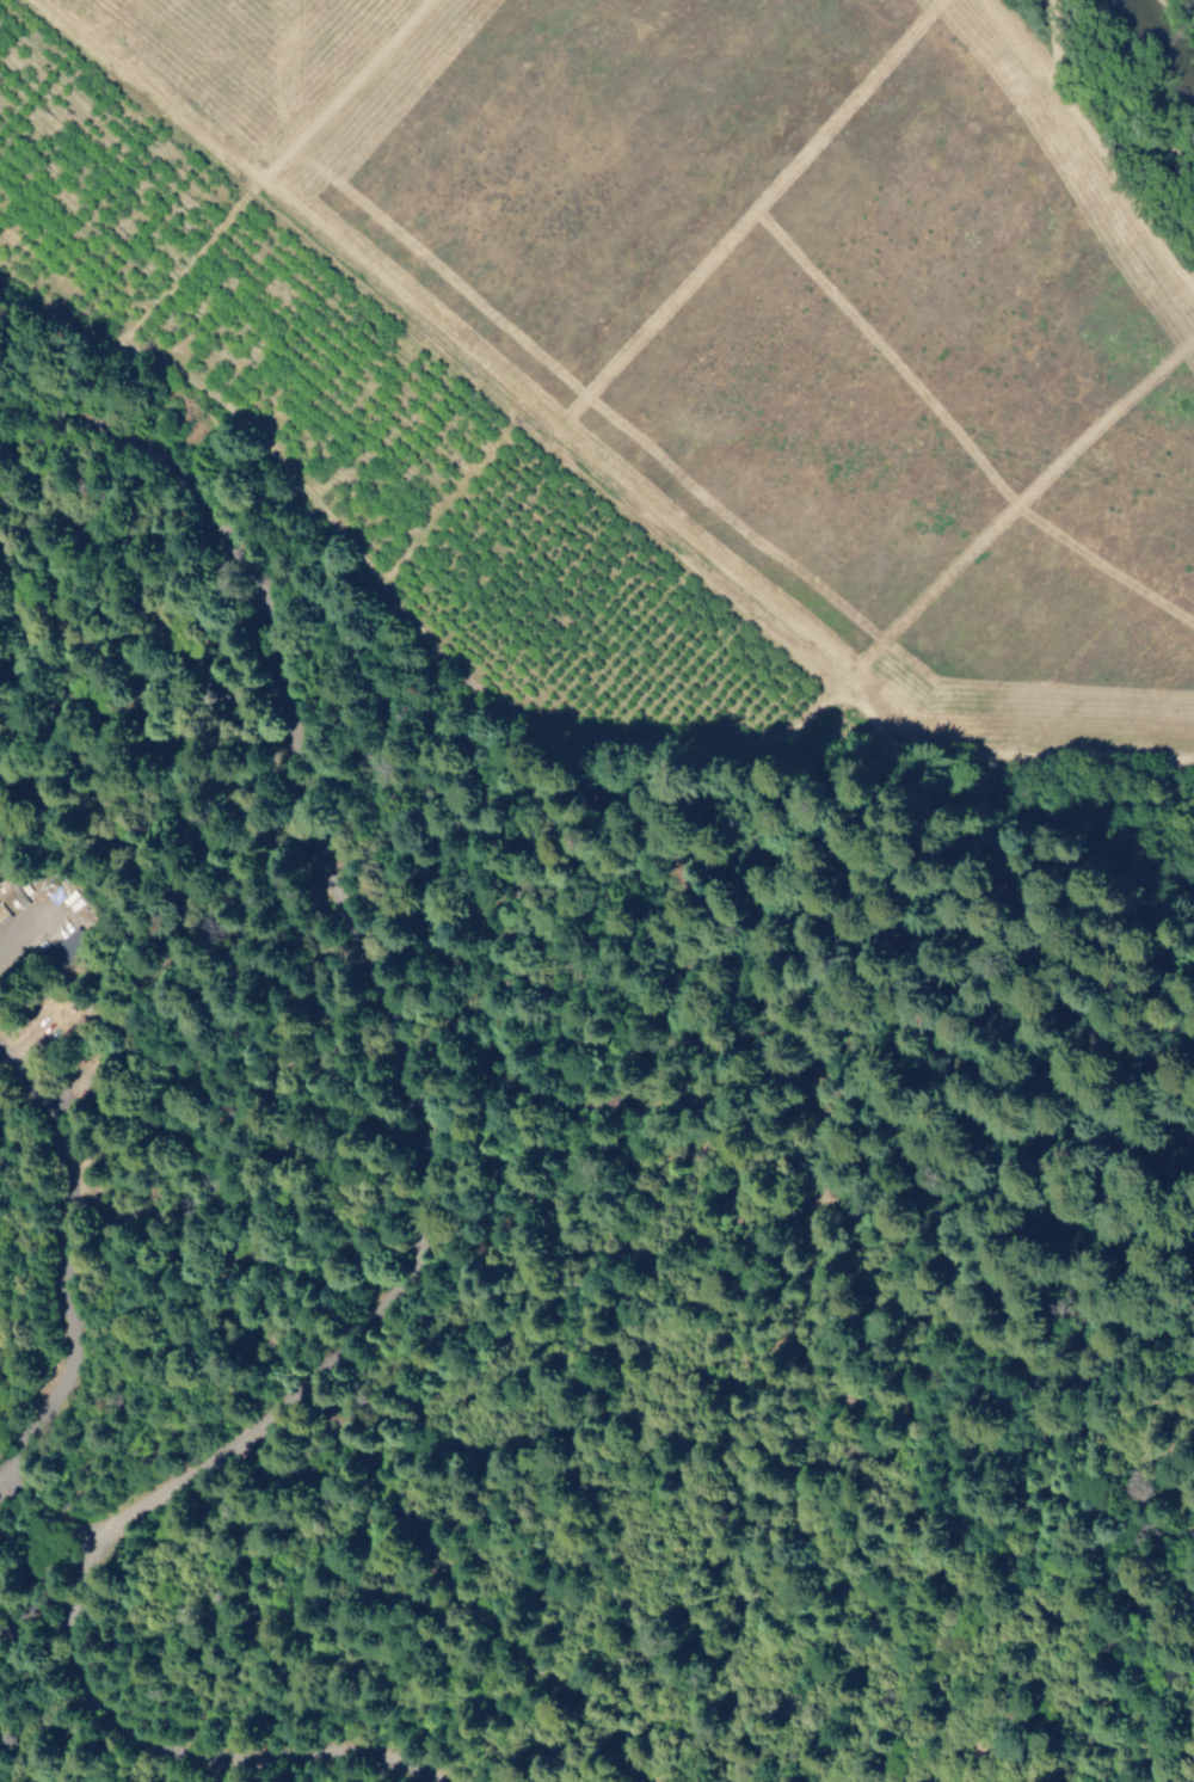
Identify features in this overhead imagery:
river: (1144, 74)
road: (580, 465)
road: (586, 770)
road: (1100, 948)
road: (376, 982)
road: (836, 1181)
road: (1173, 1302)
road: (70, 1307)
road: (473, 1400)
road: (1139, 1422)
road: (1139, 1569)
road: (38, 1589)
road: (1039, 1596)
road: (168, 1654)
road: (862, 1682)
road: (66, 1737)
road: (195, 1761)
road: (1015, 1771)

